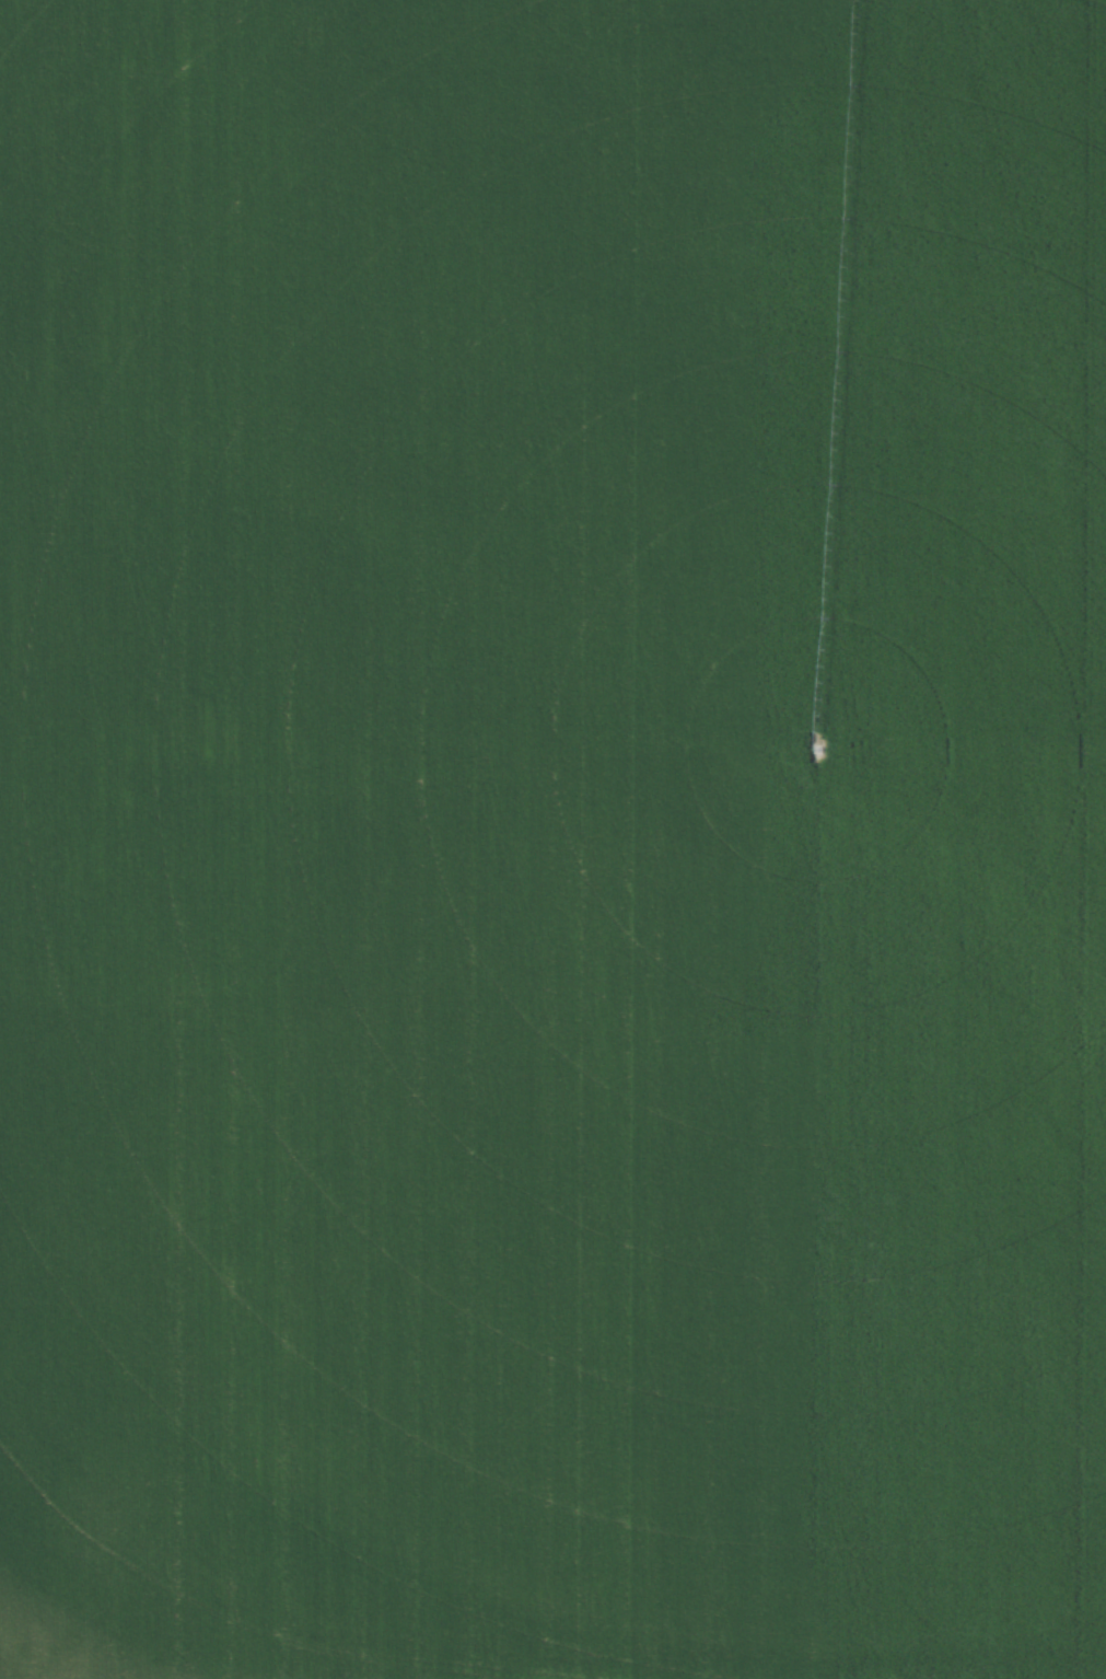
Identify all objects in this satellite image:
crop: (552, 839)

